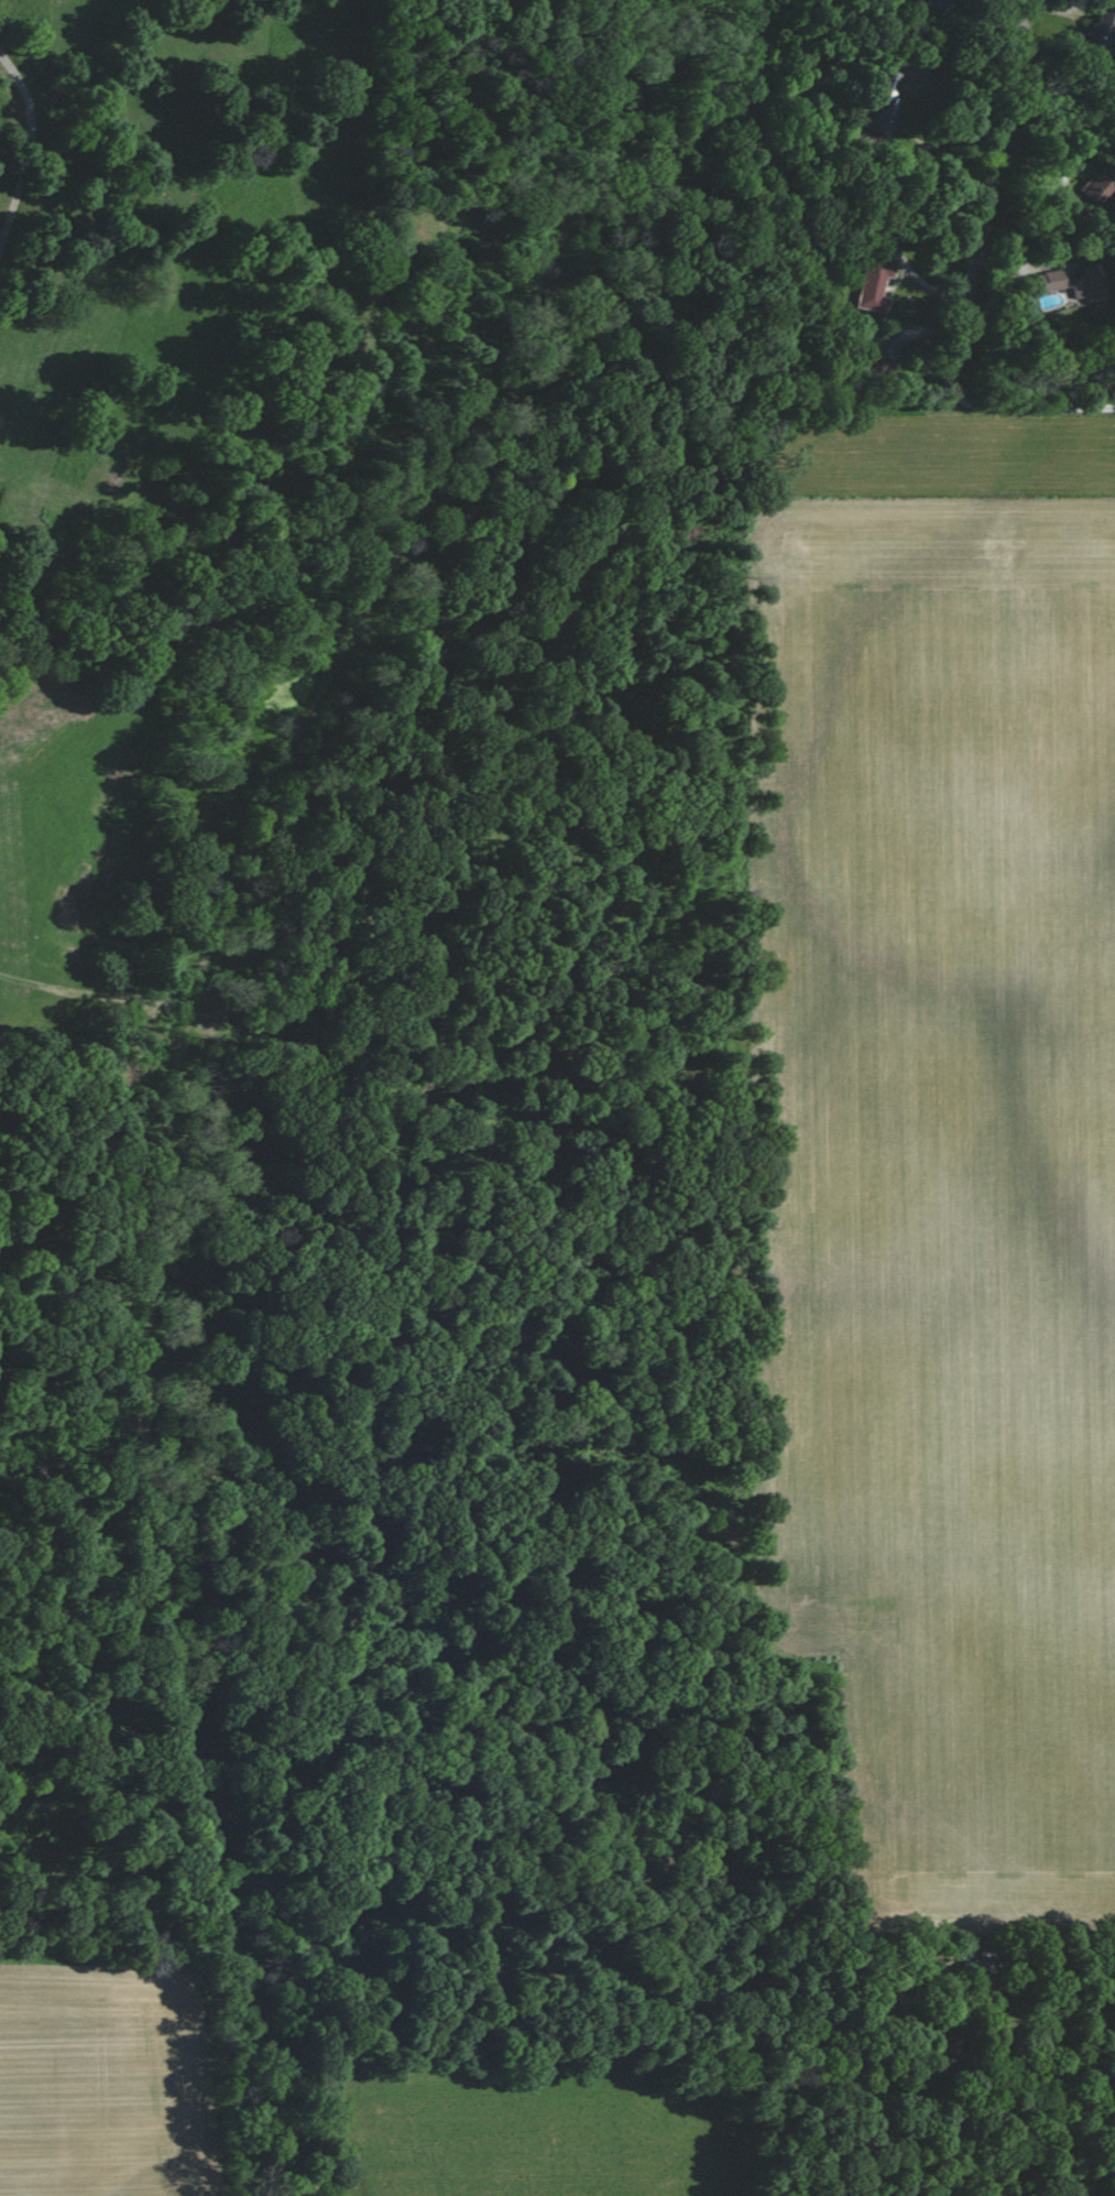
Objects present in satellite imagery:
building: (938, 4)
building: (1100, 29)
building: (878, 104)
building: (1093, 185)
road: (991, 262)
building: (1068, 282)
building: (872, 283)
building: (872, 357)

